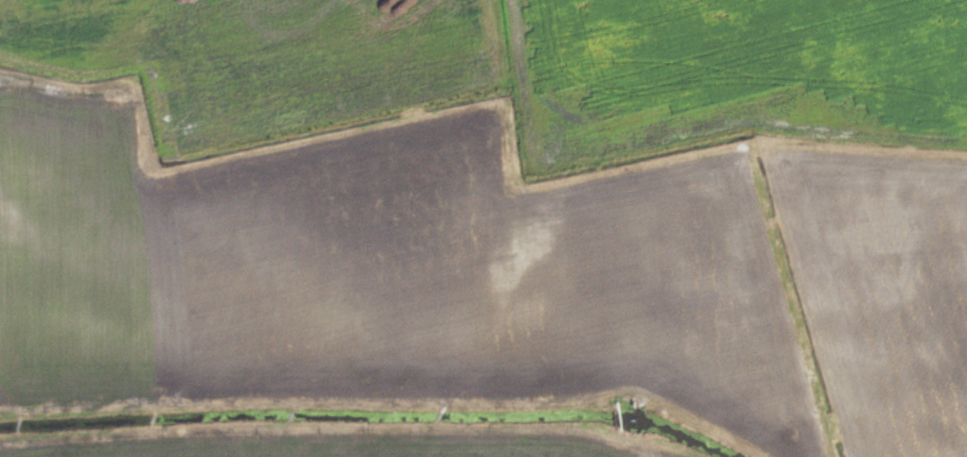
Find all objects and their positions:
road: (855, 136)
crop: (483, 228)

